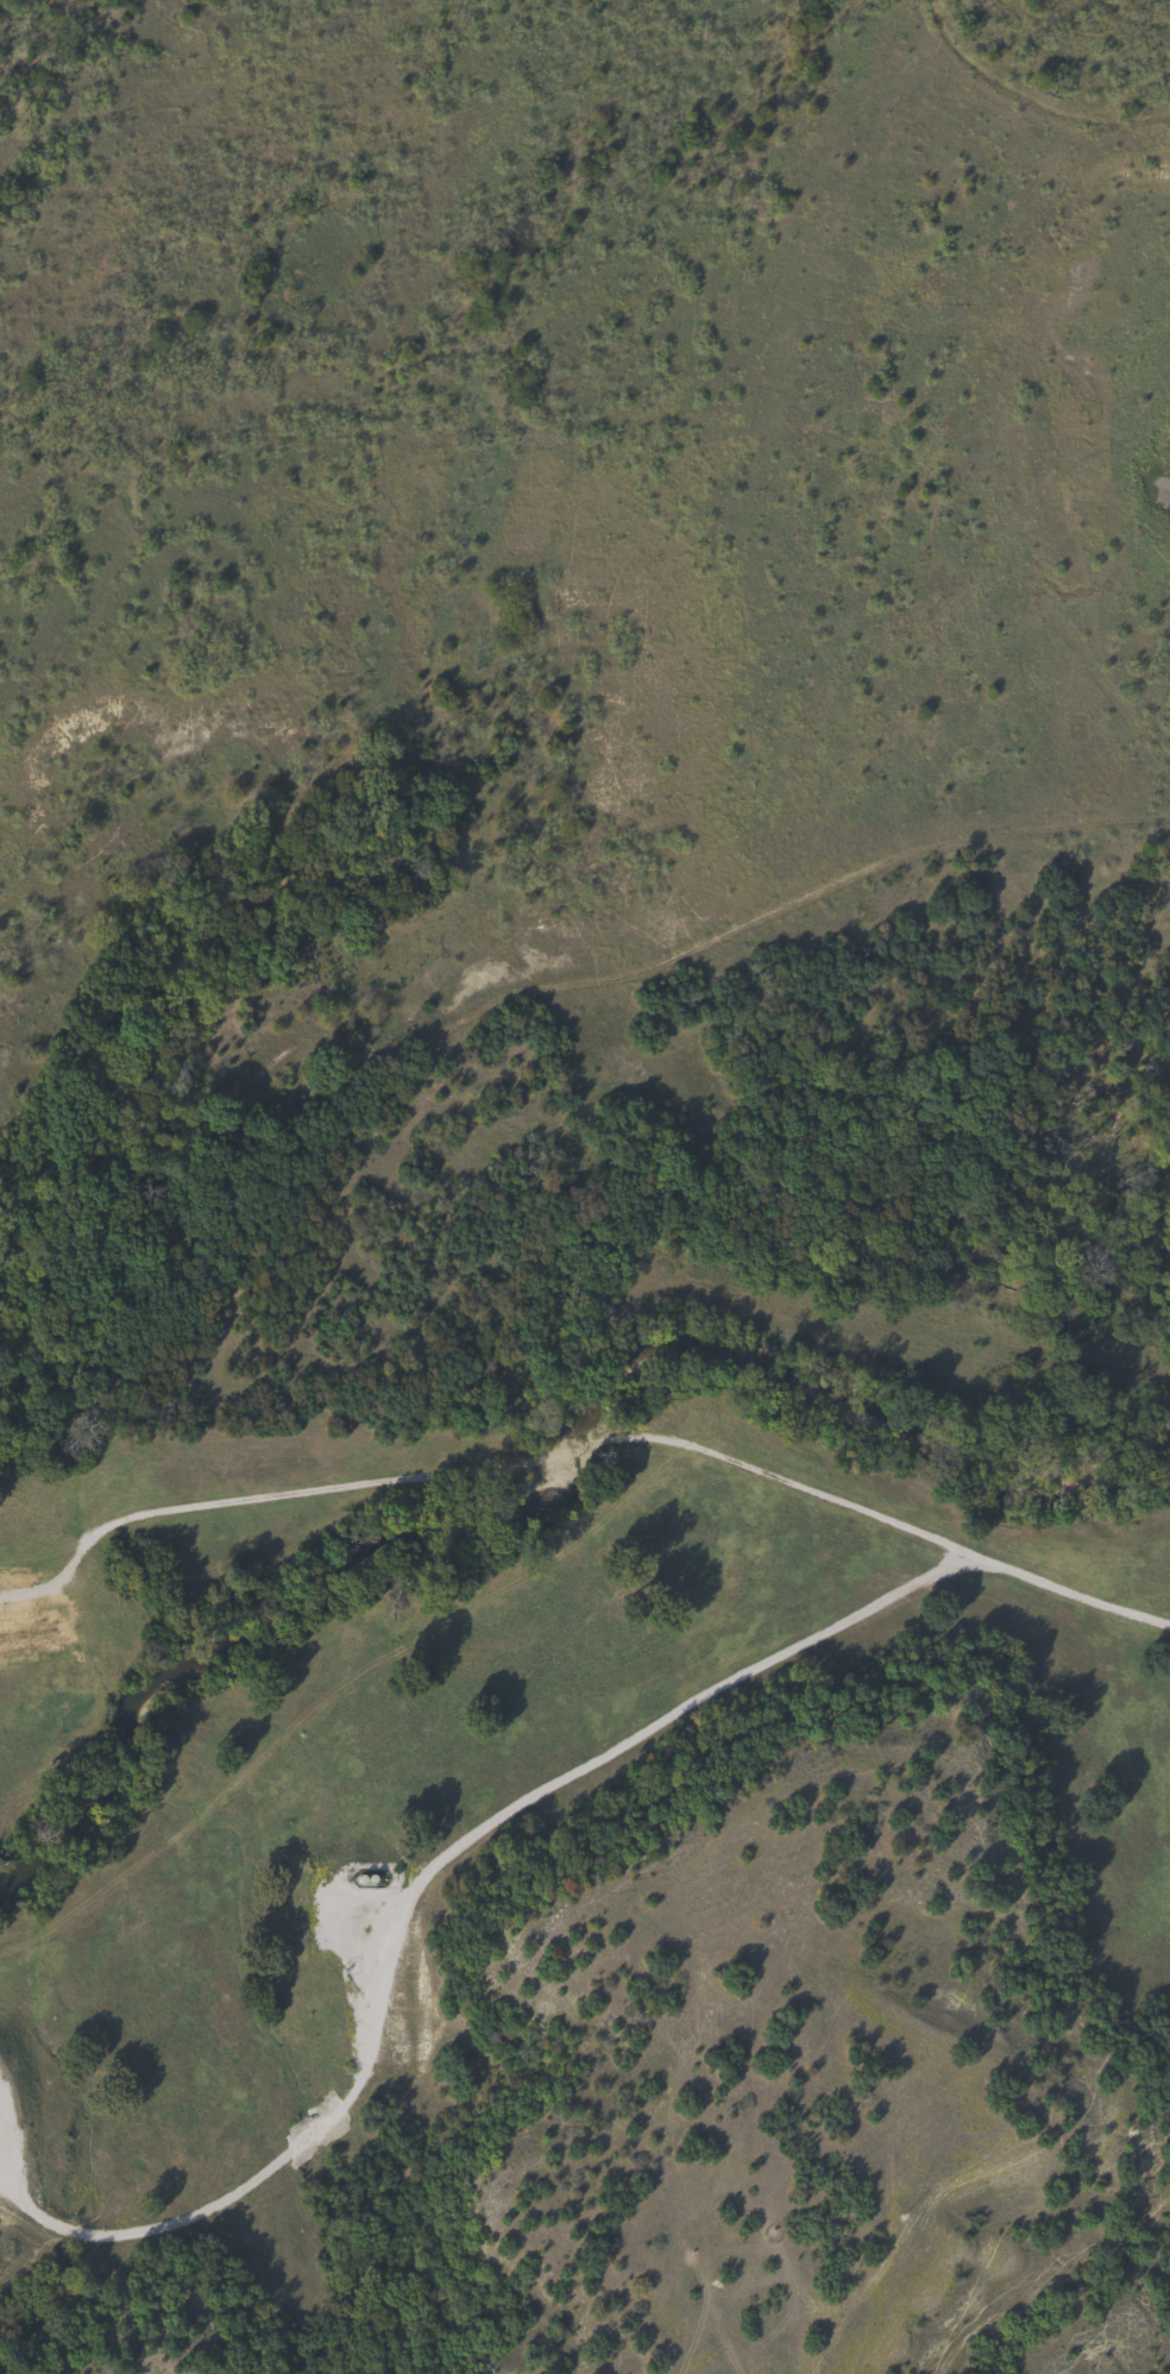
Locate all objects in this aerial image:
road: (502, 1817)

